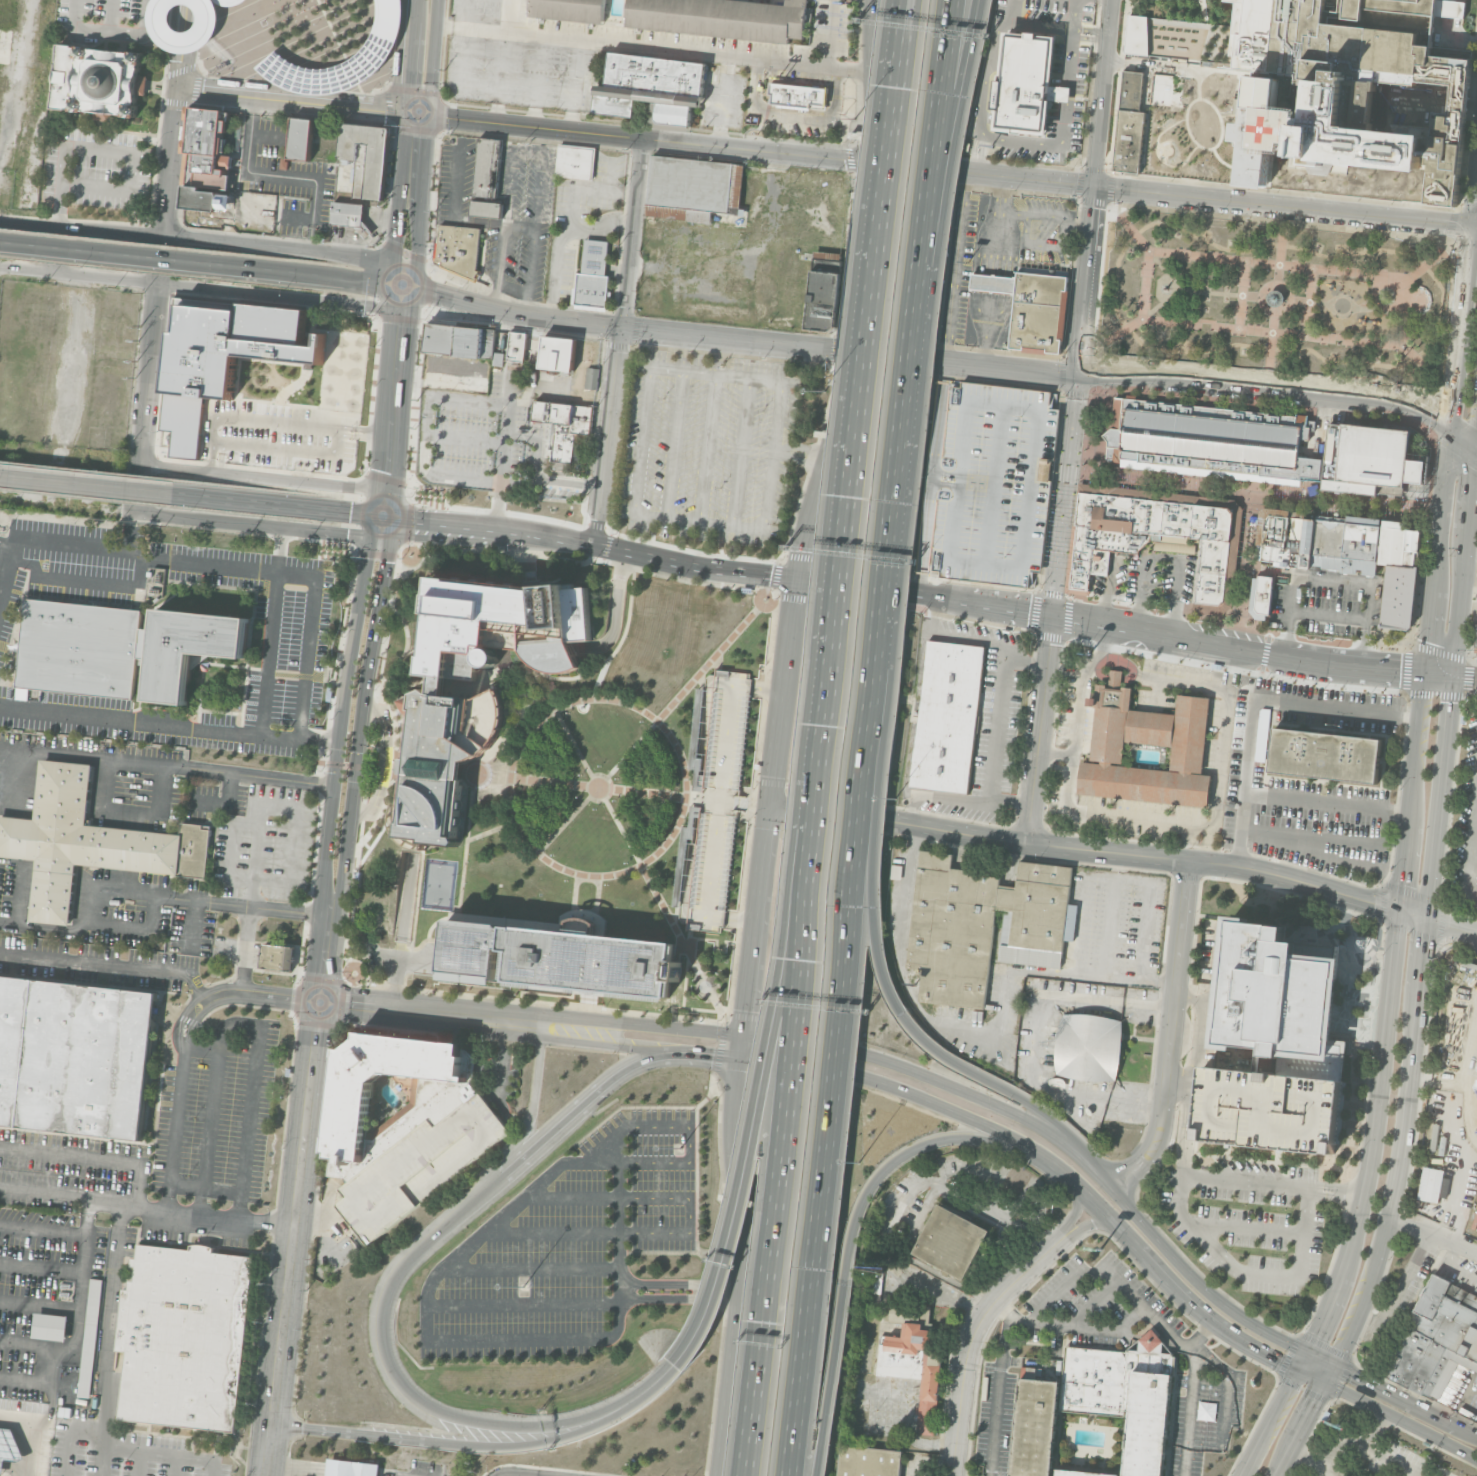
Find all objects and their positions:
road: (188, 0)
road: (1118, 0)
building: (228, 1)
road: (197, 3)
building: (569, 9)
road: (187, 11)
road: (508, 15)
road: (196, 16)
building: (724, 18)
road: (186, 25)
building: (206, 26)
road: (1047, 26)
road: (1452, 28)
road: (112, 31)
road: (830, 34)
building: (1158, 35)
road: (194, 37)
road: (185, 40)
building: (379, 46)
road: (652, 48)
building: (548, 54)
road: (432, 57)
road: (187, 69)
road: (503, 76)
road: (988, 79)
building: (97, 80)
building: (1025, 83)
road: (160, 85)
traffic signals: (407, 85)
road: (577, 85)
building: (655, 86)
building: (1353, 91)
road: (1107, 93)
building: (799, 94)
road: (292, 100)
road: (725, 102)
road: (416, 113)
road: (792, 115)
building: (1130, 123)
road: (1467, 124)
helipad: (1267, 125)
road: (1062, 129)
building: (301, 138)
traffic signals: (426, 139)
road: (173, 142)
road: (402, 142)
building: (207, 146)
road: (111, 149)
road: (761, 150)
road: (975, 155)
building: (366, 156)
road: (424, 158)
traffic signals: (867, 160)
building: (576, 161)
parking lot: (94, 169)
road: (283, 174)
road: (865, 175)
building: (489, 177)
traffic signals: (1096, 186)
building: (695, 188)
road: (1001, 193)
building: (200, 197)
road: (1109, 204)
road: (1286, 205)
building: (348, 212)
road: (1034, 214)
road: (1092, 217)
road: (1080, 220)
traffic signals: (1473, 225)
road: (924, 228)
road: (940, 228)
road: (1451, 229)
road: (632, 232)
road: (197, 237)
road: (994, 241)
traffic signals: (396, 243)
road: (1281, 244)
road: (1044, 245)
road: (417, 246)
building: (460, 248)
road: (111, 254)
road: (1431, 264)
road: (954, 266)
road: (308, 275)
building: (594, 276)
road: (1170, 279)
building: (993, 282)
road: (990, 283)
road: (195, 287)
building: (824, 291)
traffic signals: (432, 293)
road: (1242, 294)
park: (1275, 296)
building: (1275, 297)
road: (1299, 300)
road: (1309, 302)
road: (1463, 307)
building: (1038, 311)
road: (1275, 311)
road: (1083, 313)
road: (1133, 323)
building: (274, 324)
traffic signals: (411, 325)
road: (620, 325)
traffic signals: (622, 326)
road: (984, 329)
road: (862, 332)
building: (463, 340)
road: (1403, 345)
building: (518, 346)
road: (1271, 348)
traffic signals: (850, 350)
road: (387, 351)
building: (559, 352)
road: (1097, 358)
road: (963, 363)
road: (1397, 367)
road: (1420, 367)
road: (944, 370)
road: (150, 373)
road: (717, 374)
traffic signals: (1076, 376)
building: (592, 377)
road: (1266, 383)
road: (404, 402)
road: (836, 405)
road: (1428, 414)
road: (313, 420)
building: (566, 425)
traffic signals: (1450, 426)
road: (1058, 430)
road: (1463, 434)
road: (609, 435)
building: (1210, 438)
road: (643, 440)
traffic signals: (1476, 443)
road: (674, 446)
parking lot: (708, 446)
road: (741, 451)
road: (707, 452)
road: (799, 454)
road: (773, 455)
building: (1368, 459)
road: (376, 465)
road: (257, 476)
road: (86, 483)
building: (986, 483)
parking lot: (986, 483)
road: (895, 485)
traffic signals: (374, 492)
road: (1246, 492)
road: (1472, 492)
road: (1065, 495)
road: (272, 502)
traffic signals: (344, 510)
road: (412, 510)
road: (383, 514)
road: (699, 520)
road: (808, 520)
building: (1211, 523)
road: (252, 525)
building: (1120, 529)
road: (409, 530)
building: (1275, 531)
building: (1413, 540)
road: (595, 543)
building: (1306, 543)
building: (1327, 544)
building: (1286, 546)
building: (1392, 546)
building: (1361, 548)
road: (1436, 548)
road: (602, 553)
road: (1166, 553)
road: (385, 554)
building: (1214, 557)
road: (591, 558)
building: (1411, 559)
road: (187, 562)
traffic signals: (387, 563)
road: (8, 568)
road: (1243, 569)
road: (1269, 570)
road: (1470, 571)
road: (1333, 576)
traffic signals: (794, 579)
parking lot: (1149, 580)
road: (86, 581)
road: (918, 584)
road: (775, 585)
building: (1210, 588)
road: (879, 589)
road: (1110, 592)
road: (783, 594)
building: (1264, 594)
building: (1398, 597)
road: (1468, 601)
parking lot: (1326, 603)
road: (254, 606)
road: (1459, 607)
road: (1009, 608)
road: (615, 612)
road: (1289, 613)
traffic signals: (1054, 614)
road: (1329, 616)
road: (1101, 622)
road: (1367, 622)
building: (502, 624)
road: (270, 632)
road: (958, 636)
building: (1475, 636)
road: (1322, 640)
traffic signals: (1426, 641)
road: (1218, 643)
building: (118, 648)
road: (349, 648)
road: (716, 657)
road: (1301, 657)
road: (307, 658)
road: (222, 664)
road: (1338, 664)
road: (599, 665)
road: (1393, 668)
traffic signals: (1400, 669)
road: (1438, 673)
road: (1465, 674)
road: (765, 688)
road: (780, 692)
road: (1421, 692)
road: (1458, 695)
road: (388, 697)
parking lot: (846, 698)
road: (1252, 699)
road: (1077, 702)
traffic signals: (1450, 702)
road: (187, 708)
road: (362, 713)
building: (946, 717)
road: (148, 723)
road: (511, 723)
road: (1040, 728)
road: (998, 729)
building: (1262, 733)
road: (406, 740)
building: (1176, 744)
road: (628, 755)
building: (1326, 755)
road: (1054, 756)
road: (151, 763)
building: (436, 764)
road: (1220, 771)
road: (581, 786)
road: (879, 794)
road: (1440, 794)
road: (939, 796)
road: (687, 798)
road: (695, 798)
building: (715, 800)
parking lot: (715, 800)
road: (719, 801)
road: (1326, 802)
road: (757, 804)
road: (261, 806)
road: (749, 806)
traffic signals: (768, 806)
road: (1410, 810)
road: (569, 821)
parking lot: (1466, 822)
road: (978, 835)
building: (88, 841)
road: (1309, 843)
road: (327, 846)
road: (632, 847)
road: (1472, 857)
road: (1295, 879)
road: (418, 880)
park: (439, 883)
road: (111, 891)
road: (1472, 898)
road: (574, 899)
road: (597, 902)
traffic signals: (1400, 907)
road: (290, 911)
road: (1413, 911)
traffic signals: (1427, 916)
road: (476, 917)
road: (738, 920)
road: (755, 920)
road: (1452, 924)
road: (351, 925)
road: (433, 925)
building: (982, 925)
parking lot: (822, 928)
road: (402, 931)
road: (1108, 948)
road: (246, 949)
road: (325, 954)
building: (277, 957)
building: (562, 957)
road: (410, 961)
road: (109, 965)
road: (780, 965)
road: (252, 994)
road: (842, 994)
road: (1190, 997)
road: (524, 1000)
traffic signals: (321, 1003)
building: (1281, 1003)
road: (1203, 1005)
traffic signals: (745, 1010)
road: (447, 1015)
road: (658, 1024)
road: (943, 1025)
road: (241, 1026)
road: (1171, 1034)
road: (722, 1038)
traffic signals: (767, 1039)
road: (628, 1045)
building: (1088, 1047)
building: (74, 1056)
traffic signals: (711, 1056)
road: (712, 1056)
building: (1476, 1064)
road: (504, 1065)
road: (792, 1071)
road: (929, 1079)
building: (1475, 1083)
road: (1183, 1085)
road: (912, 1094)
road: (707, 1096)
building: (442, 1100)
road: (586, 1100)
road: (1030, 1103)
building: (1269, 1109)
parking lot: (1269, 1109)
road: (177, 1112)
road: (526, 1119)
road: (629, 1125)
road: (1186, 1130)
road: (1373, 1135)
road: (620, 1146)
road: (1400, 1146)
road: (914, 1147)
road: (90, 1156)
road: (655, 1162)
building: (421, 1166)
parking lot: (421, 1166)
parking lot: (796, 1166)
road: (1104, 1180)
road: (1274, 1184)
road: (607, 1197)
road: (515, 1204)
road: (147, 1208)
road: (297, 1214)
road: (88, 1216)
road: (321, 1220)
parking lot: (1250, 1222)
road: (43, 1227)
road: (1245, 1228)
road: (640, 1233)
road: (1304, 1233)
road: (1433, 1234)
building: (951, 1242)
parking lot: (568, 1244)
road: (1216, 1251)
road: (742, 1255)
road: (42, 1265)
road: (531, 1268)
road: (1096, 1268)
road: (1412, 1268)
road: (1198, 1281)
road: (680, 1283)
road: (1172, 1286)
road: (679, 1299)
road: (40, 1302)
road: (523, 1303)
road: (987, 1309)
road: (701, 1313)
building: (50, 1326)
road: (1091, 1329)
road: (78, 1332)
traffic signals: (1316, 1334)
road: (381, 1336)
road: (580, 1336)
building: (185, 1337)
building: (90, 1340)
road: (106, 1340)
building: (1436, 1340)
road: (33, 1344)
building: (913, 1357)
road: (1320, 1360)
road: (1301, 1363)
traffic signals: (1280, 1364)
traffic signals: (1352, 1375)
road: (1330, 1376)
road: (1311, 1379)
road: (652, 1380)
road: (829, 1380)
road: (997, 1395)
road: (1193, 1396)
road: (1406, 1401)
traffic signals: (1316, 1402)
building: (1099, 1405)
road: (1475, 1406)
road: (1469, 1414)
road: (590, 1416)
road: (1401, 1422)
road: (1269, 1424)
road: (1300, 1430)
road: (32, 1435)
road: (1351, 1442)
road: (489, 1447)
road: (271, 1451)
road: (164, 1455)
building: (867, 1462)
road: (954, 1465)
road: (298, 1468)
building: (351, 1468)
road: (345, 1473)
building: (1082, 1473)
road: (1327, 1473)

